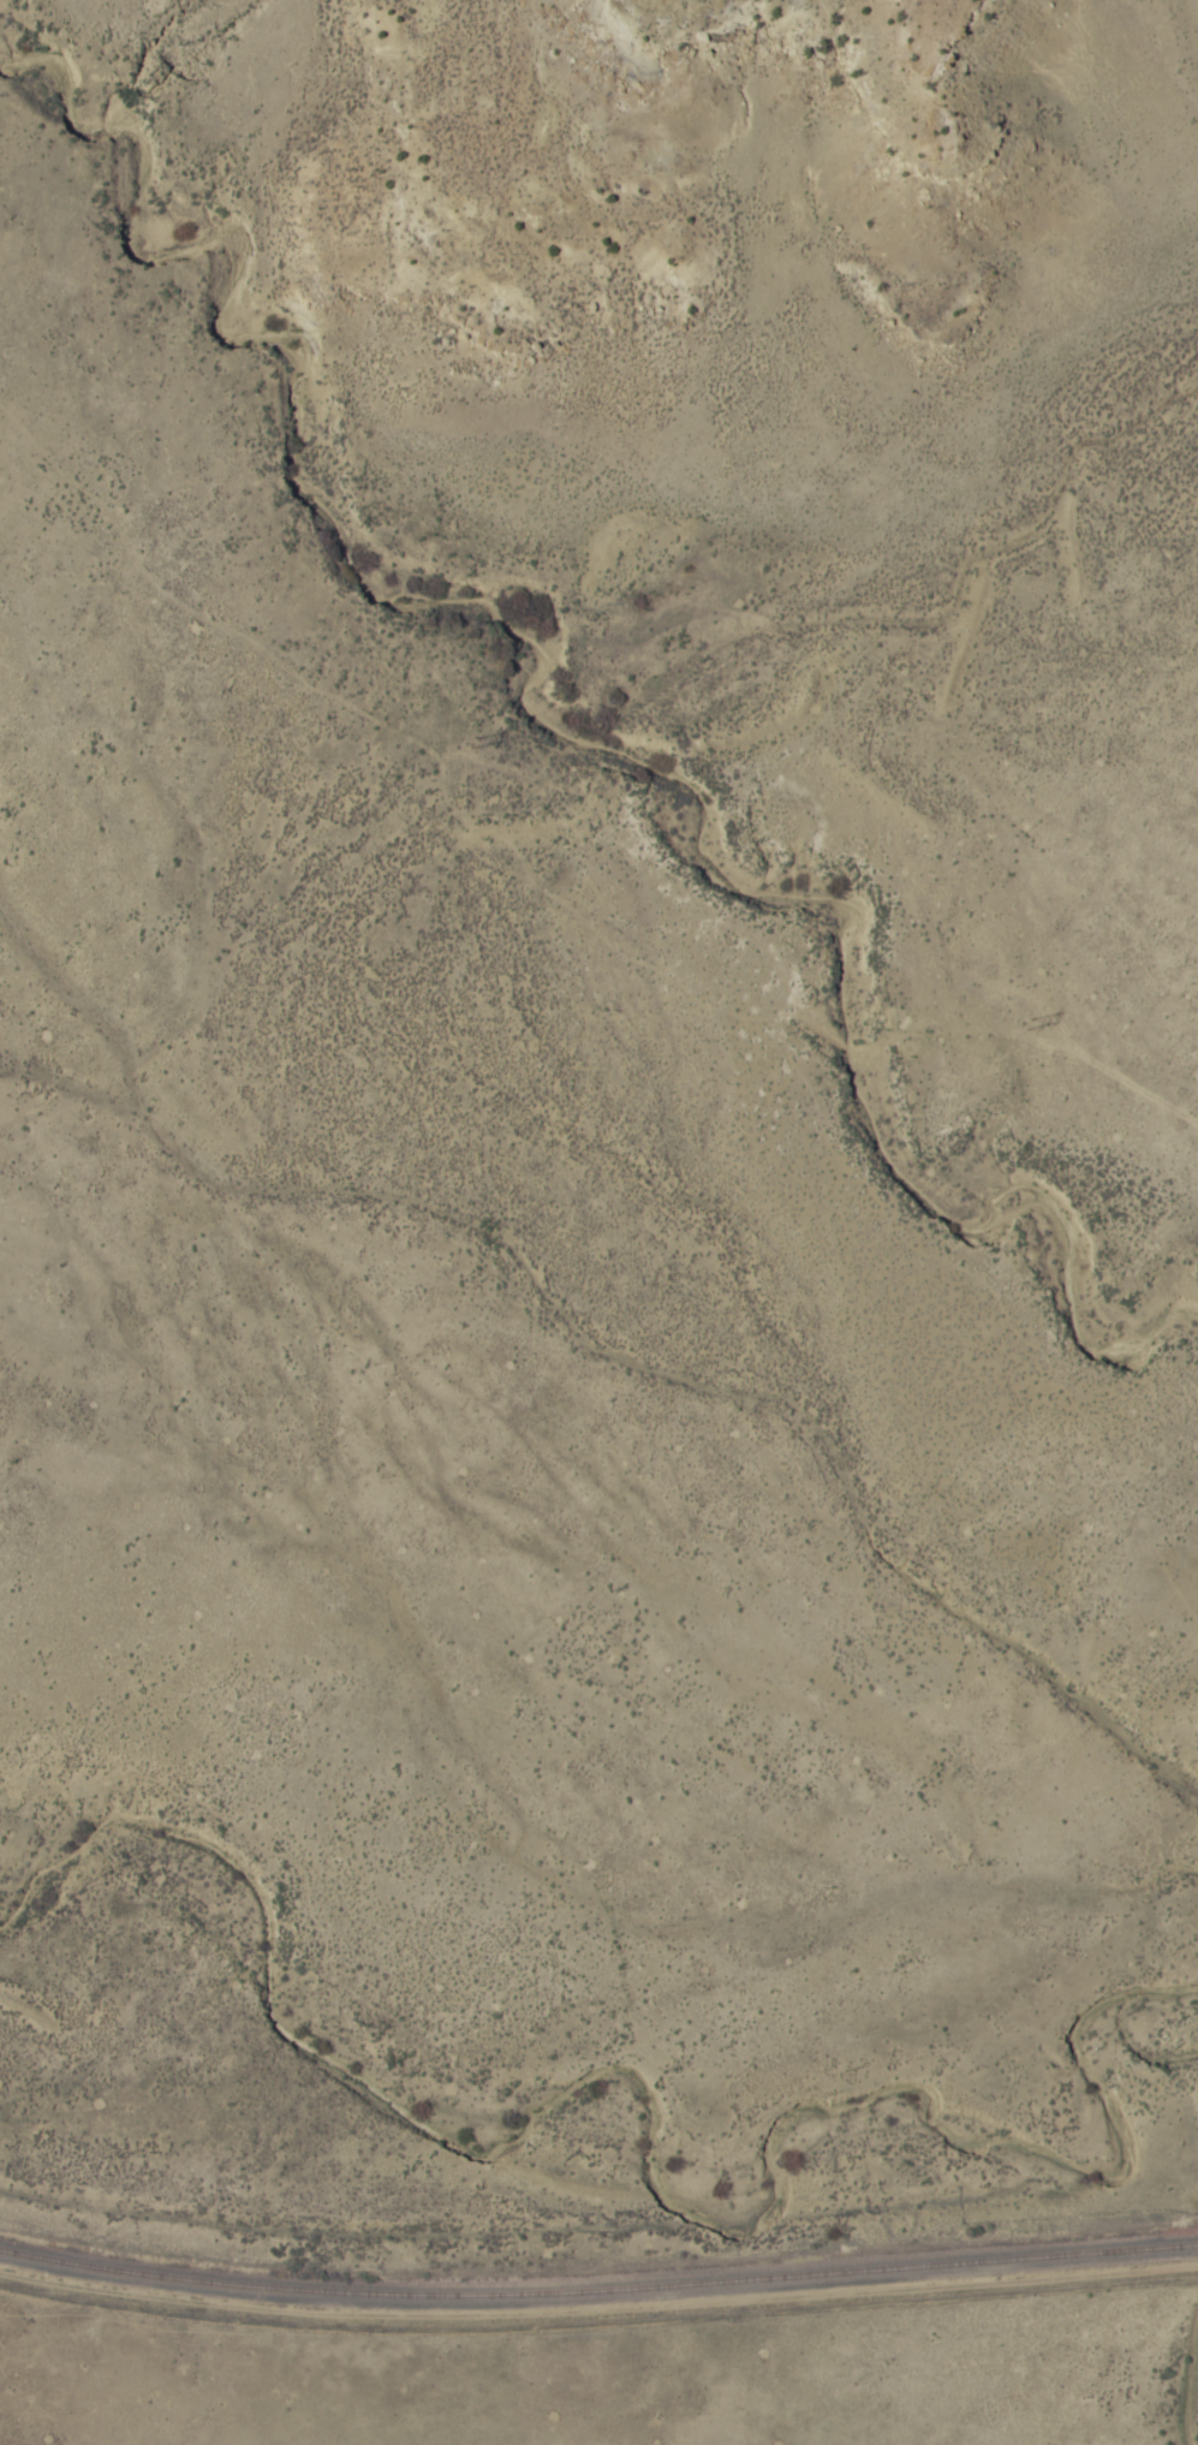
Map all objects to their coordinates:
railway: (598, 2294)

